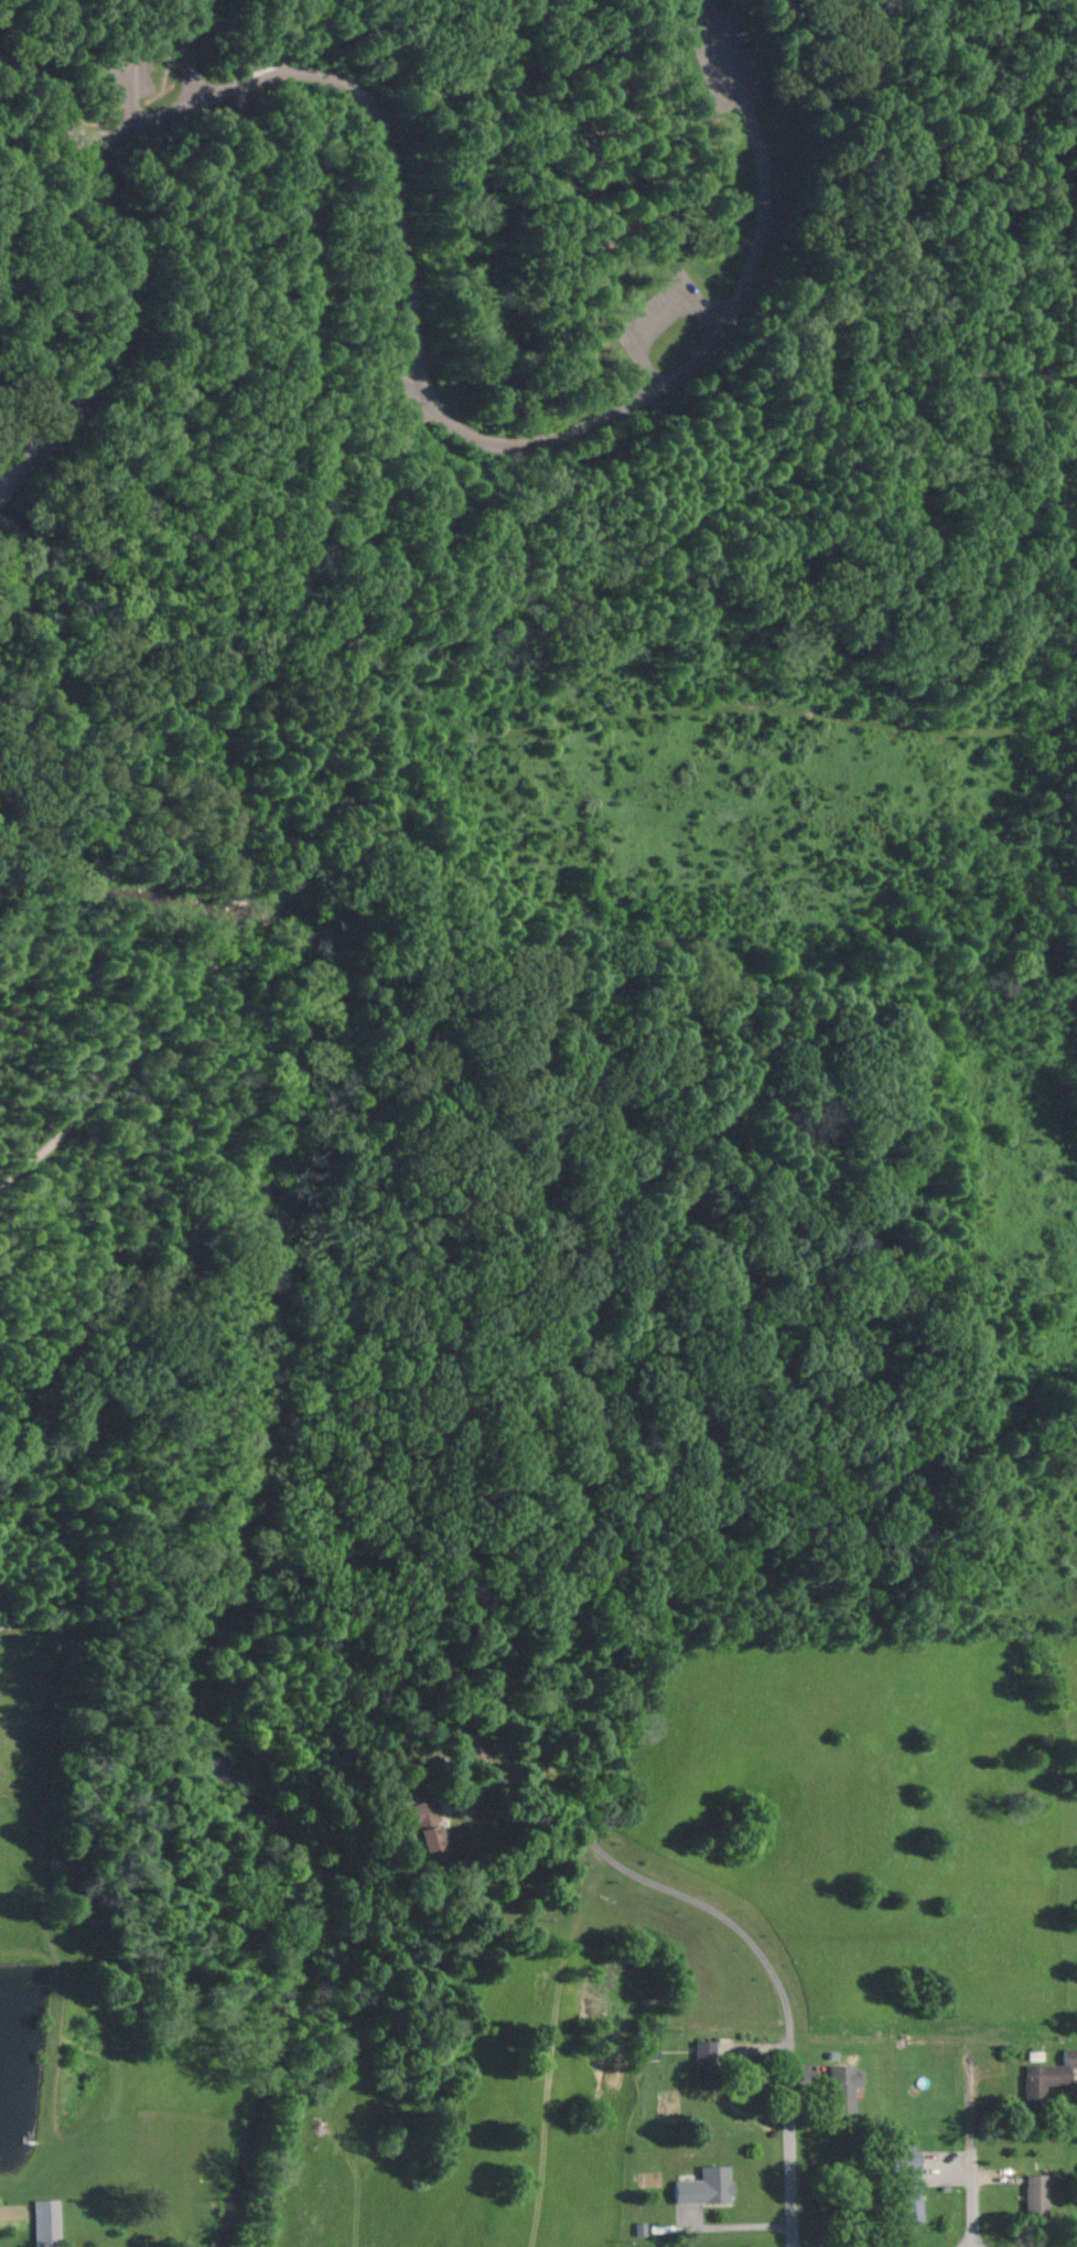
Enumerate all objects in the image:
road: (753, 21)
road: (192, 47)
parking lot: (730, 58)
parking lot: (123, 78)
road: (130, 97)
building: (602, 227)
road: (115, 255)
parking lot: (658, 314)
road: (659, 324)
parking lot: (414, 396)
road: (457, 427)
road: (11, 469)
building: (467, 1746)
building: (423, 1825)
road: (678, 1892)
building: (646, 2051)
building: (701, 2052)
building: (1045, 2074)
building: (839, 2086)
road: (794, 2148)
road: (977, 2161)
building: (905, 2179)
building: (701, 2186)
building: (1032, 2195)
building: (49, 2223)

